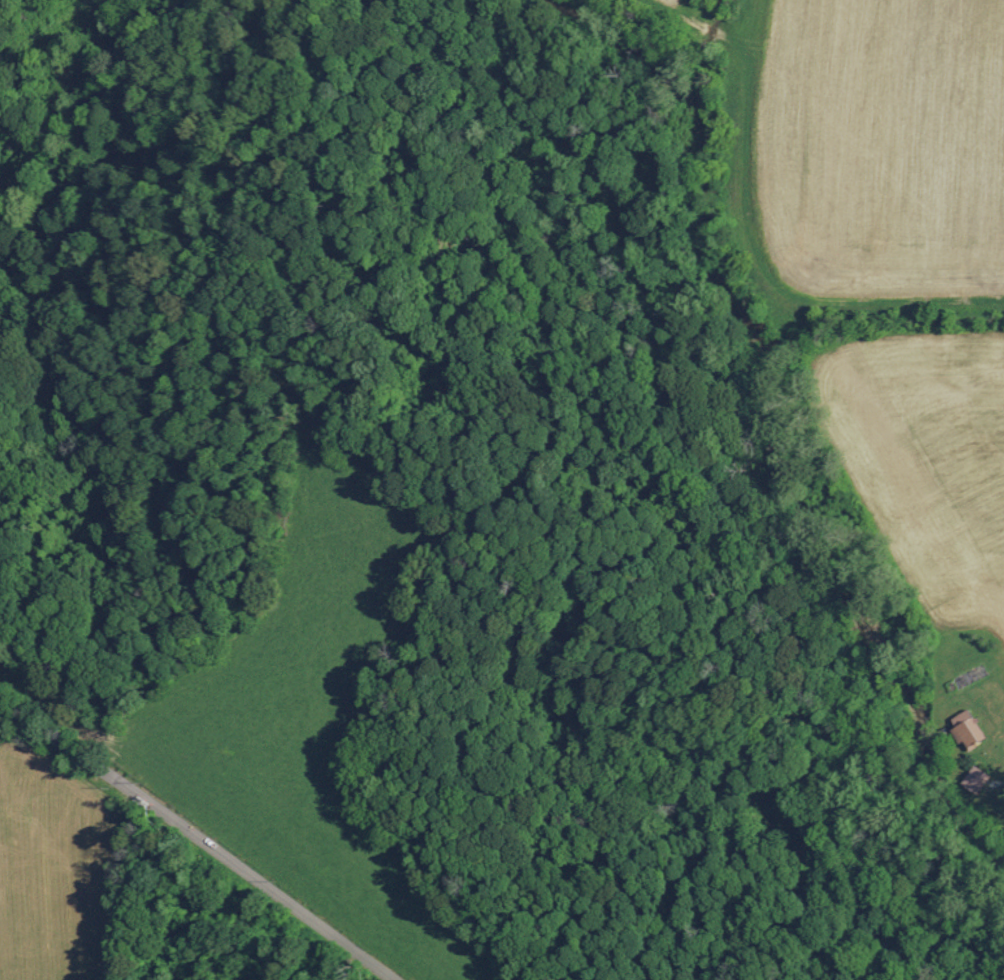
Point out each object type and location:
building: (966, 728)
road: (995, 771)
building: (974, 778)
road: (197, 838)

